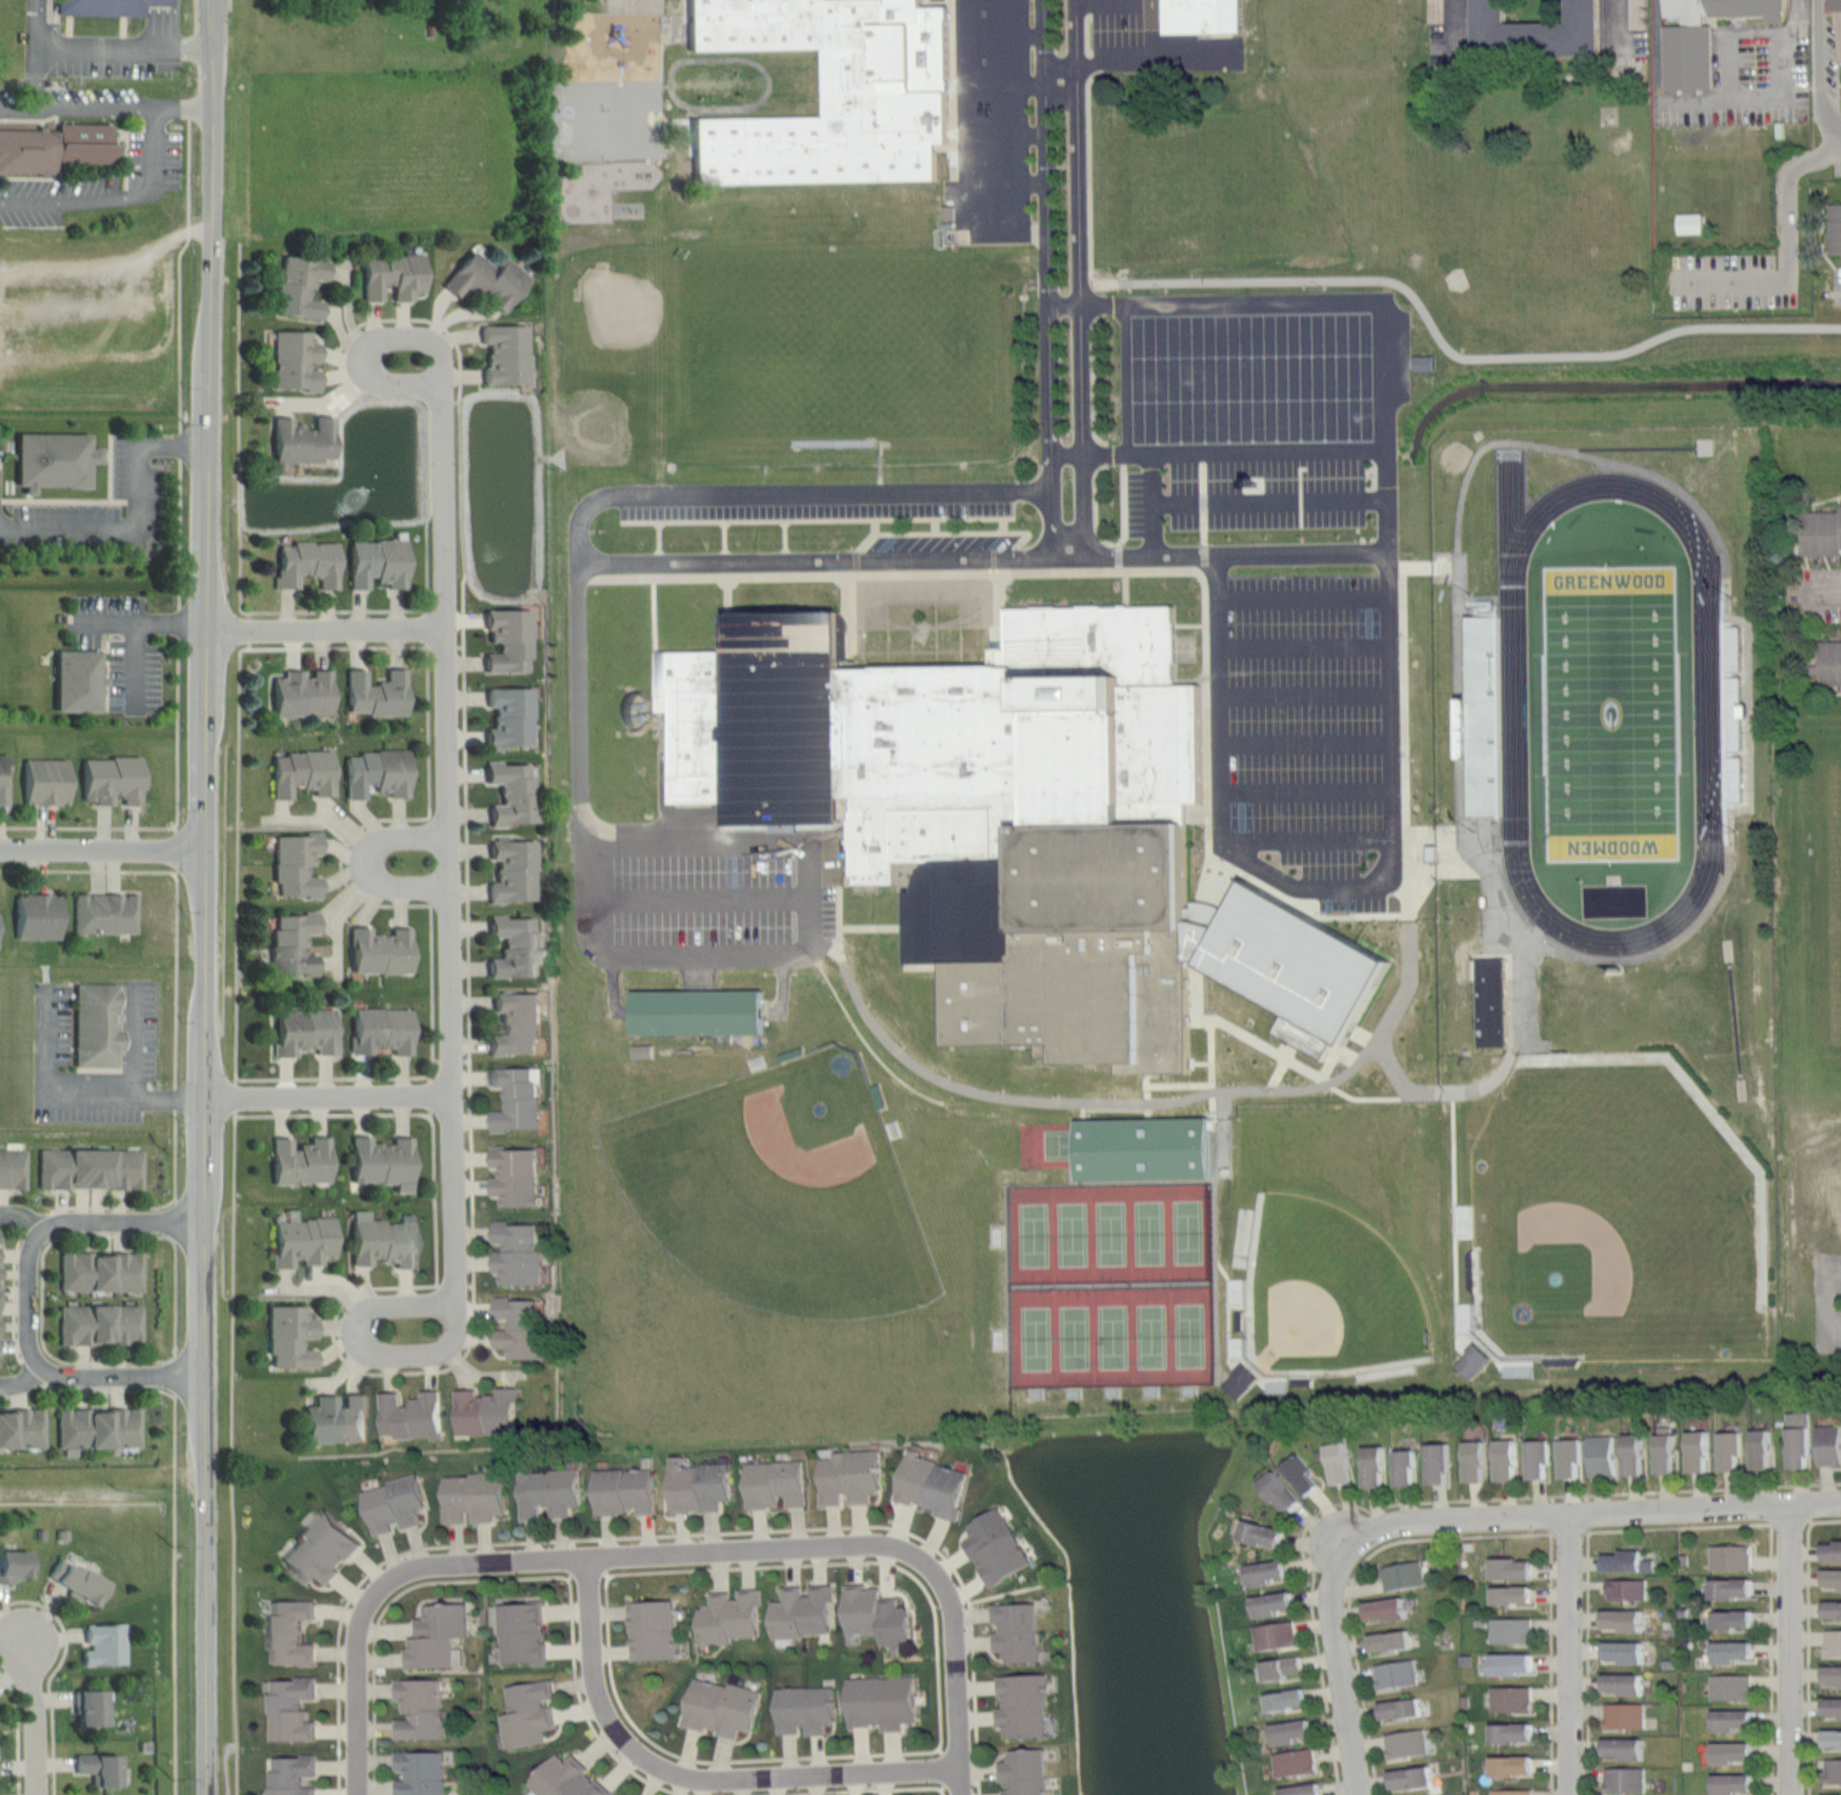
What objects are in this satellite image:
road: (225, 2)
building: (1837, 5)
building: (105, 7)
building: (1435, 10)
building: (1635, 13)
road: (1454, 16)
building: (1202, 19)
road: (1618, 23)
building: (1537, 28)
road: (1002, 33)
building: (1700, 36)
parking lot: (1150, 44)
road: (105, 47)
road: (1133, 55)
road: (1059, 70)
building: (864, 78)
road: (1005, 78)
road: (766, 80)
road: (1819, 82)
road: (662, 85)
road: (1720, 98)
road: (182, 105)
parking lot: (985, 108)
road: (686, 121)
road: (1005, 133)
road: (150, 143)
building: (59, 148)
road: (964, 152)
road: (1005, 182)
building: (947, 217)
building: (1693, 223)
building: (1834, 228)
road: (1785, 248)
building: (394, 275)
building: (488, 280)
road: (1077, 280)
road: (1047, 281)
building: (302, 286)
park: (830, 344)
road: (1447, 345)
building: (508, 354)
building: (297, 361)
building: (1425, 362)
road: (459, 419)
road: (240, 433)
building: (304, 441)
road: (1218, 451)
road: (107, 455)
building: (62, 467)
road: (113, 468)
road: (182, 475)
road: (830, 487)
road: (19, 499)
road: (79, 501)
road: (1267, 501)
road: (1147, 503)
parking lot: (1172, 507)
parking lot: (812, 513)
road: (816, 520)
road: (139, 521)
road: (933, 526)
road: (1001, 526)
road: (874, 527)
road: (1387, 528)
building: (1820, 531)
road: (947, 535)
road: (724, 537)
road: (784, 537)
road: (659, 538)
parking lot: (942, 544)
road: (1228, 553)
road: (818, 561)
building: (308, 564)
building: (378, 564)
road: (1153, 573)
road: (428, 595)
road: (1124, 595)
road: (1825, 595)
road: (721, 617)
road: (1001, 624)
road: (850, 625)
road: (331, 627)
road: (135, 628)
building: (510, 641)
road: (336, 646)
building: (1830, 662)
building: (80, 681)
road: (1189, 687)
building: (303, 693)
building: (377, 693)
parking lot: (1298, 707)
track: (1706, 709)
park: (1611, 713)
building: (1485, 716)
building: (511, 718)
building: (303, 773)
building: (378, 773)
building: (4, 779)
building: (114, 781)
building: (48, 782)
building: (513, 793)
building: (977, 817)
road: (402, 818)
road: (1196, 821)
road: (86, 825)
road: (97, 846)
road: (467, 856)
road: (451, 857)
road: (239, 859)
road: (367, 862)
building: (298, 864)
road: (84, 869)
building: (514, 871)
road: (693, 893)
parking lot: (696, 896)
road: (194, 897)
park: (1826, 898)
building: (104, 913)
building: (1211, 915)
building: (38, 916)
building: (295, 944)
building: (515, 947)
road: (621, 947)
road: (1197, 947)
building: (382, 951)
building: (1296, 967)
road: (433, 982)
road: (1199, 984)
building: (1491, 1008)
building: (694, 1019)
road: (1199, 1023)
building: (98, 1024)
building: (518, 1024)
building: (382, 1030)
road: (176, 1031)
building: (305, 1031)
park: (1807, 1035)
building: (642, 1051)
road: (433, 1064)
road: (336, 1077)
road: (322, 1092)
road: (76, 1094)
building: (519, 1098)
road: (1144, 1102)
road: (333, 1114)
building: (1140, 1156)
building: (302, 1161)
building: (384, 1162)
building: (12, 1167)
building: (90, 1167)
road: (470, 1176)
building: (518, 1177)
park: (784, 1183)
road: (435, 1195)
park: (1603, 1223)
road: (101, 1235)
building: (303, 1239)
building: (384, 1239)
building: (519, 1251)
building: (101, 1270)
road: (1833, 1270)
park: (1110, 1282)
road: (16, 1297)
road: (288, 1297)
road: (29, 1299)
park: (1325, 1299)
parking lot: (1826, 1299)
road: (1824, 1302)
building: (101, 1324)
building: (521, 1326)
road: (1833, 1331)
building: (292, 1336)
building: (1475, 1359)
road: (124, 1361)
road: (361, 1370)
building: (1243, 1380)
building: (487, 1411)
building: (412, 1414)
building: (337, 1418)
building: (22, 1428)
building: (98, 1428)
building: (1812, 1441)
building: (1763, 1448)
building: (1732, 1450)
building: (1699, 1451)
building: (1635, 1453)
building: (1668, 1453)
road: (233, 1454)
building: (1601, 1454)
building: (1571, 1457)
building: (1539, 1458)
building: (1508, 1459)
building: (1476, 1460)
building: (1440, 1462)
building: (1340, 1463)
building: (1376, 1465)
building: (1407, 1467)
building: (851, 1475)
building: (1305, 1475)
building: (777, 1484)
building: (699, 1485)
building: (933, 1485)
building: (625, 1490)
building: (550, 1491)
building: (1285, 1491)
building: (474, 1496)
road: (1430, 1500)
building: (396, 1502)
road: (1586, 1516)
road: (1825, 1519)
road: (1679, 1526)
road: (664, 1533)
building: (1267, 1533)
building: (321, 1545)
building: (997, 1548)
building: (1833, 1550)
road: (725, 1556)
building: (1732, 1556)
road: (852, 1561)
building: (1629, 1561)
building: (16, 1565)
building: (1517, 1567)
building: (1268, 1572)
building: (1402, 1574)
road: (568, 1577)
building: (1831, 1577)
road: (1350, 1580)
building: (80, 1582)
building: (1737, 1587)
building: (1628, 1588)
building: (1516, 1594)
road: (176, 1595)
building: (1273, 1604)
road: (384, 1606)
building: (1389, 1608)
building: (1831, 1608)
building: (804, 1611)
building: (876, 1614)
building: (731, 1616)
building: (1624, 1618)
building: (1738, 1618)
building: (652, 1629)
building: (1017, 1630)
building: (1511, 1630)
building: (290, 1631)
building: (521, 1631)
building: (1275, 1635)
building: (438, 1636)
building: (1393, 1640)
building: (1833, 1642)
building: (105, 1643)
road: (1807, 1650)
building: (1626, 1651)
building: (1734, 1651)
road: (1791, 1651)
road: (1567, 1656)
road: (1771, 1658)
building: (1514, 1663)
road: (1550, 1663)
road: (1586, 1663)
building: (1285, 1667)
road: (55, 1670)
road: (1348, 1673)
building: (1396, 1673)
building: (1833, 1675)
building: (1625, 1682)
building: (1732, 1686)
building: (1511, 1698)
building: (1291, 1699)
building: (882, 1700)
road: (34, 1704)
building: (1023, 1705)
building: (92, 1707)
building: (722, 1707)
building: (1831, 1707)
building: (291, 1708)
building: (806, 1708)
building: (1403, 1708)
building: (419, 1709)
building: (528, 1713)
road: (584, 1715)
building: (1624, 1715)
building: (1736, 1720)
road: (359, 1721)
road: (18, 1730)
building: (1291, 1731)
building: (1517, 1732)
building: (1833, 1738)
building: (1407, 1743)
building: (1625, 1748)
building: (1736, 1751)
road: (702, 1760)
building: (1296, 1762)
building: (1517, 1765)
building: (102, 1768)
road: (694, 1770)
building: (1834, 1770)
building: (1025, 1772)
building: (421, 1773)
building: (291, 1774)
building: (1413, 1777)
building: (568, 1779)
building: (1624, 1779)
road: (964, 1783)
building: (1736, 1784)
road: (939, 1789)
building: (1305, 1789)
road: (834, 1790)
building: (1513, 1791)
building: (1836, 1794)

